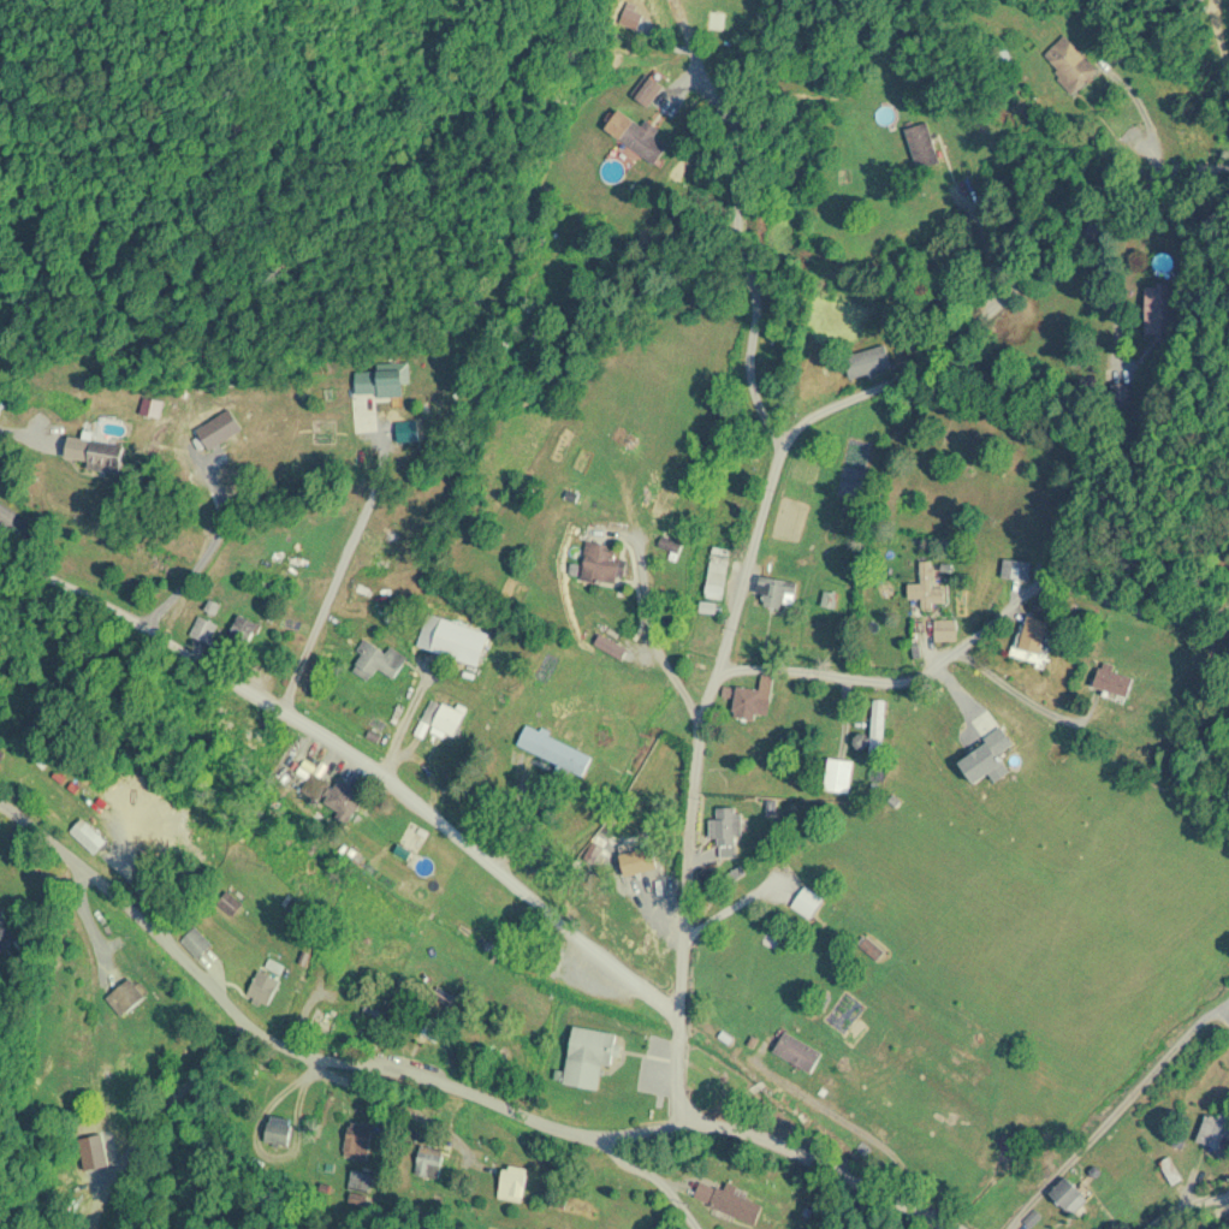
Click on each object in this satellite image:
building: (1068, 64)
building: (647, 89)
building: (645, 141)
building: (922, 143)
road: (847, 267)
building: (1157, 311)
building: (861, 360)
building: (379, 381)
building: (219, 428)
building: (93, 452)
building: (376, 541)
building: (611, 551)
road: (346, 556)
building: (602, 564)
building: (1016, 569)
building: (717, 572)
building: (273, 584)
building: (930, 584)
building: (777, 592)
road: (1144, 614)
road: (767, 618)
building: (204, 629)
building: (243, 630)
building: (1033, 634)
building: (378, 660)
building: (1112, 682)
building: (750, 700)
building: (443, 716)
building: (877, 726)
road: (355, 749)
building: (554, 750)
building: (838, 776)
building: (342, 803)
building: (725, 826)
building: (89, 837)
building: (782, 874)
building: (663, 885)
building: (228, 904)
building: (811, 906)
building: (637, 919)
building: (196, 943)
building: (266, 981)
building: (125, 997)
building: (329, 1021)
road: (705, 1033)
building: (970, 1041)
building: (796, 1052)
building: (588, 1056)
building: (89, 1079)
road: (447, 1087)
road: (1114, 1111)
building: (1216, 1129)
building: (279, 1132)
building: (357, 1141)
building: (429, 1162)
road: (653, 1177)
building: (360, 1181)
building: (512, 1183)
building: (1068, 1197)
road: (1186, 1205)
building: (737, 1206)

